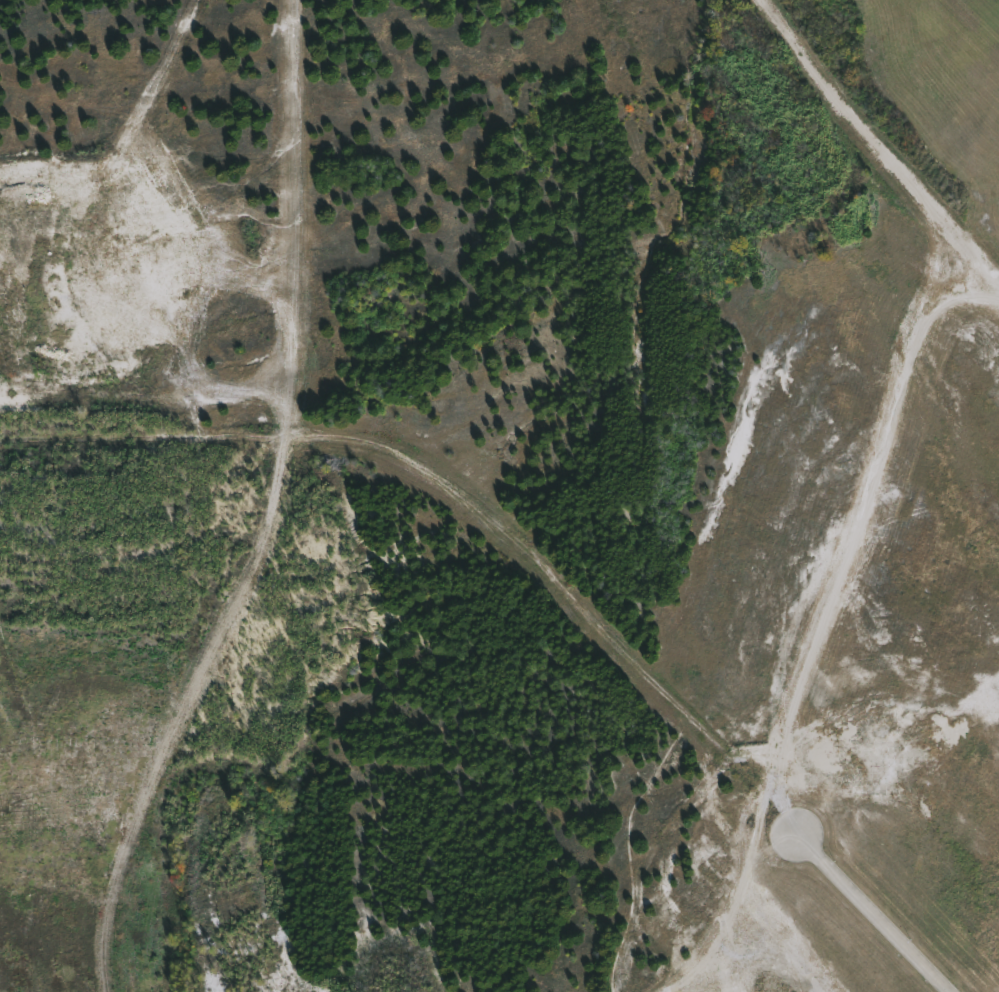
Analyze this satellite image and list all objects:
airport: (499, 496)
road: (872, 915)

